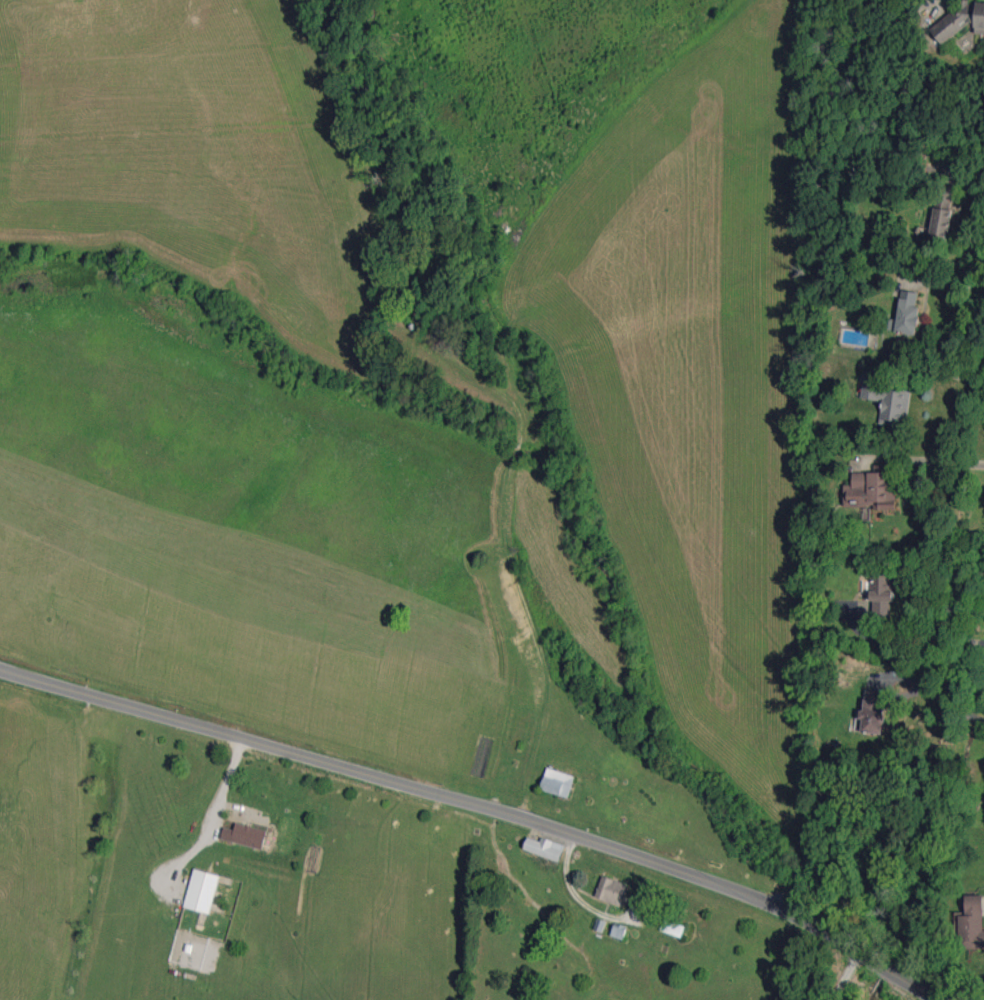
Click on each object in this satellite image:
building: (960, 20)
road: (966, 177)
building: (942, 212)
road: (955, 285)
building: (906, 314)
road: (946, 374)
building: (889, 401)
road: (925, 461)
building: (871, 490)
building: (881, 585)
road: (911, 644)
road: (929, 690)
building: (872, 711)
building: (557, 782)
road: (480, 805)
road: (212, 818)
building: (245, 835)
building: (545, 848)
road: (566, 882)
building: (201, 890)
building: (611, 890)
building: (970, 923)
building: (618, 931)
road: (847, 976)

